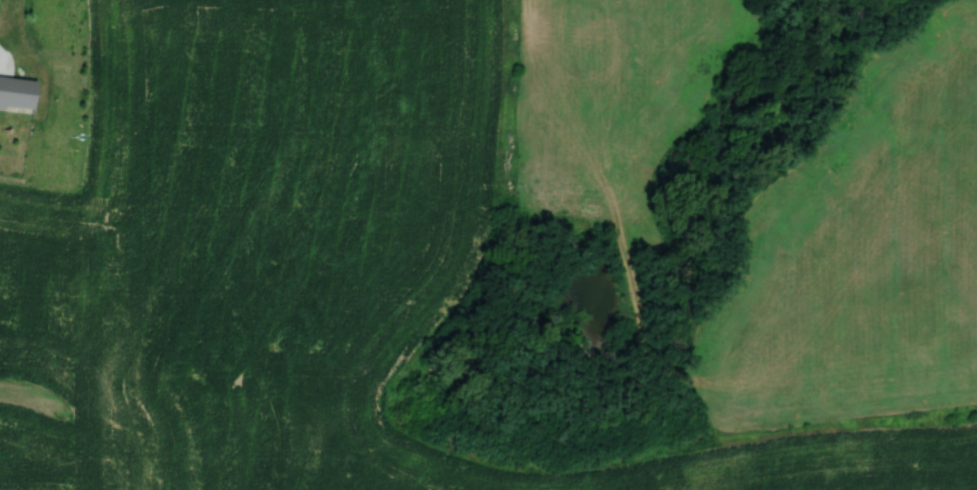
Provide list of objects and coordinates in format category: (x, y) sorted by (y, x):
building: (15, 95)

